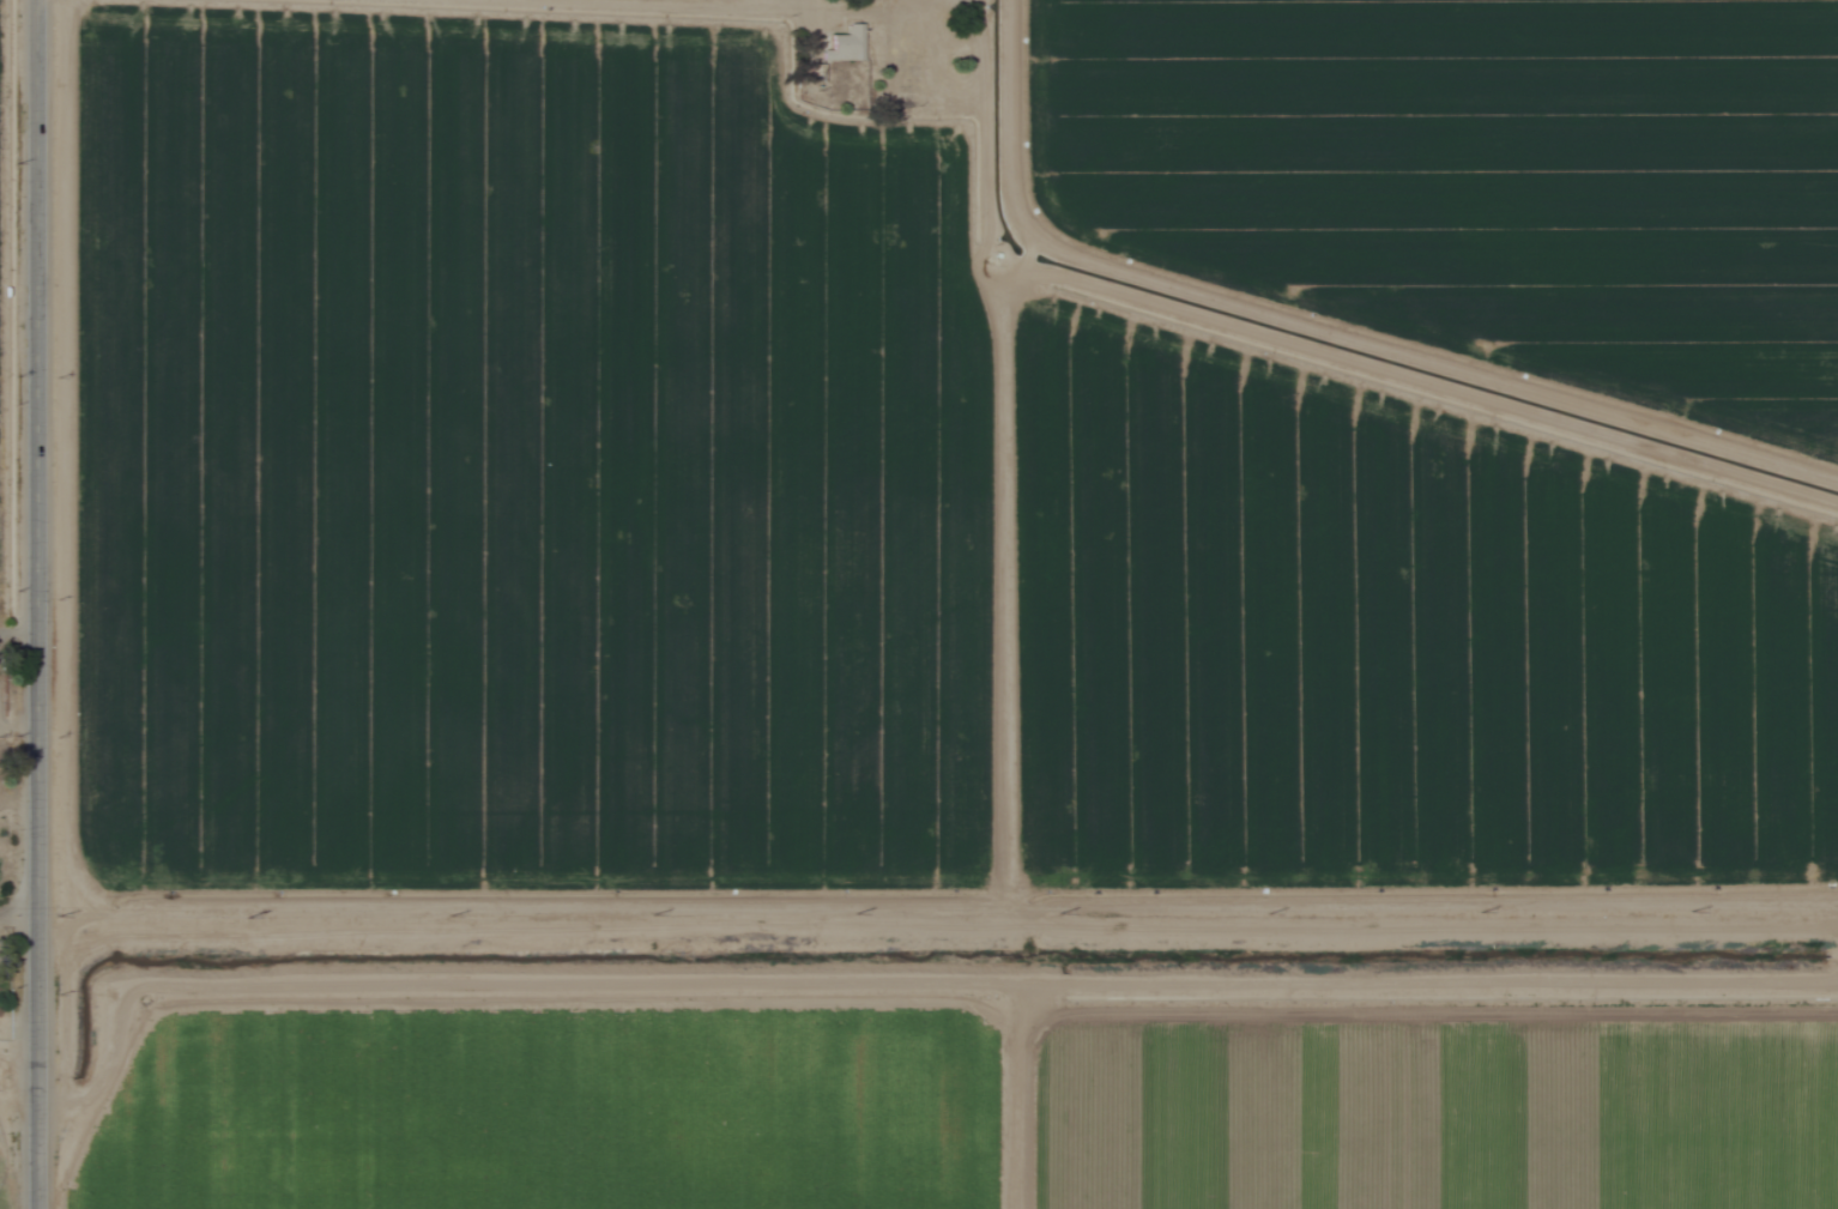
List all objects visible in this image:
building: (842, 46)
road: (40, 604)

